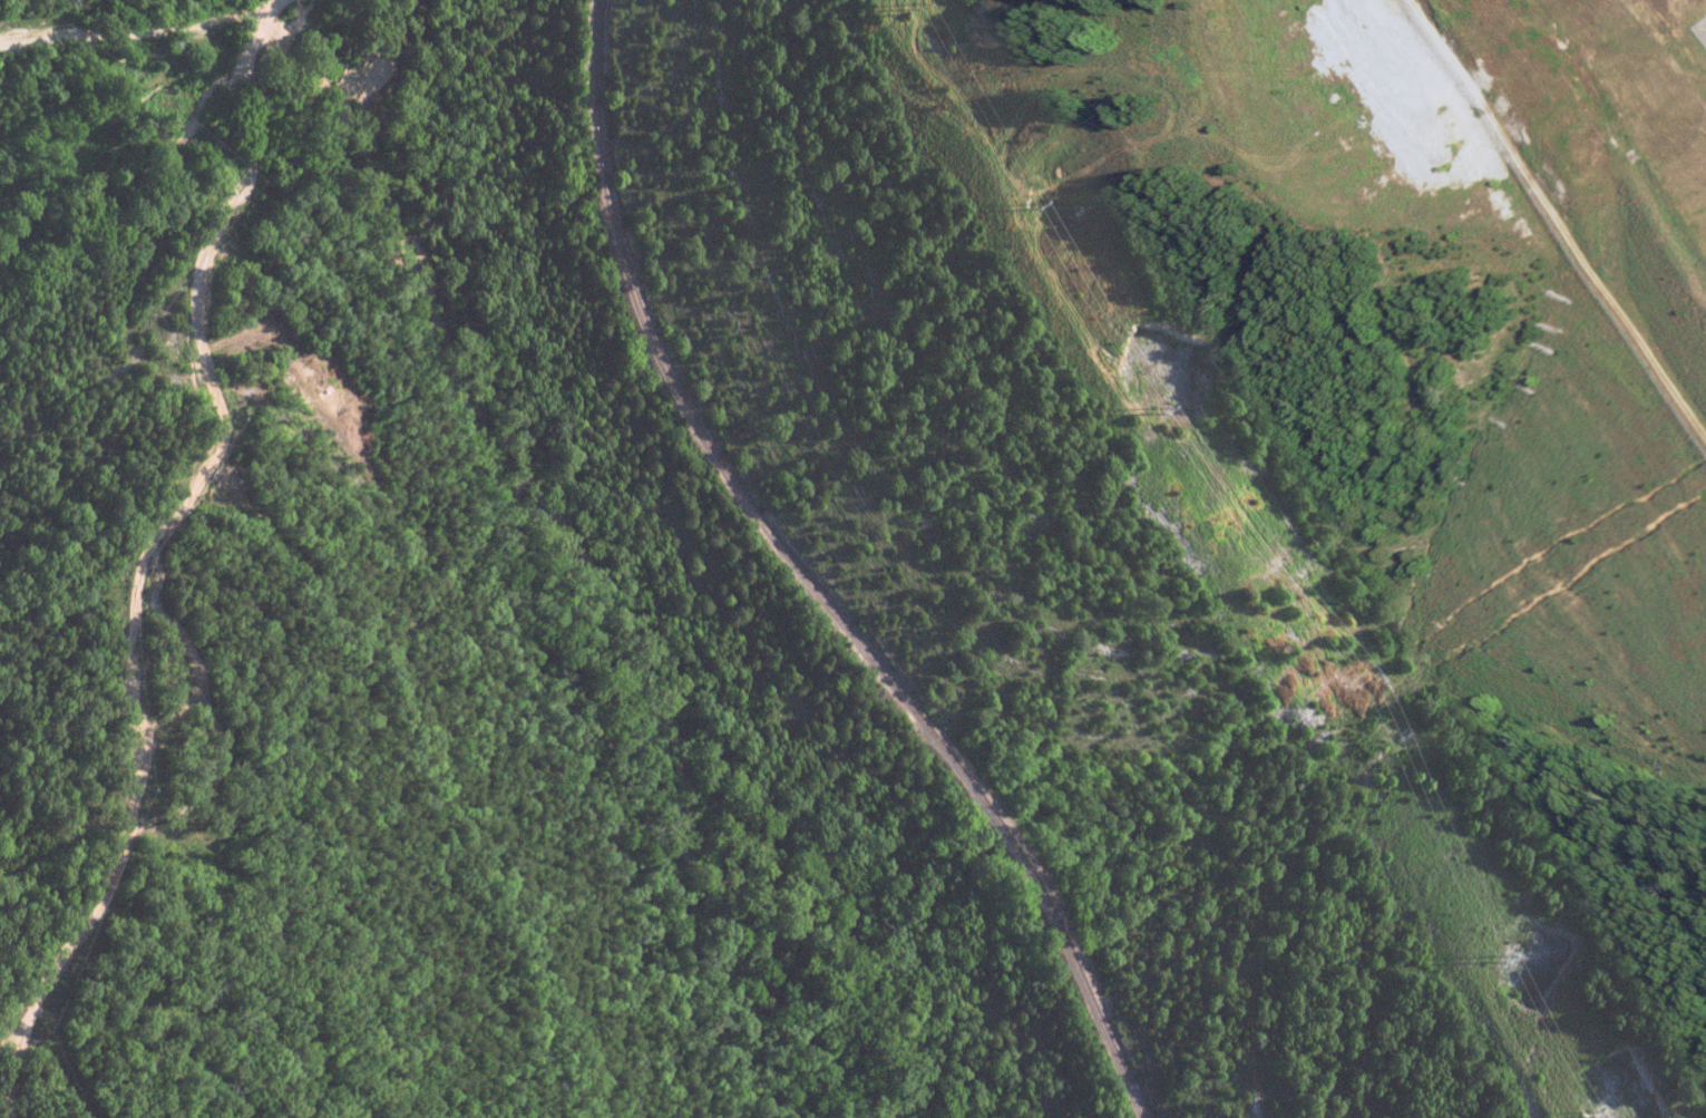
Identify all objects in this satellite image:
power tower: (899, 16)
power tower: (1150, 411)
airport: (1436, 416)
road: (207, 473)
railway: (806, 581)
power tower: (1490, 965)

